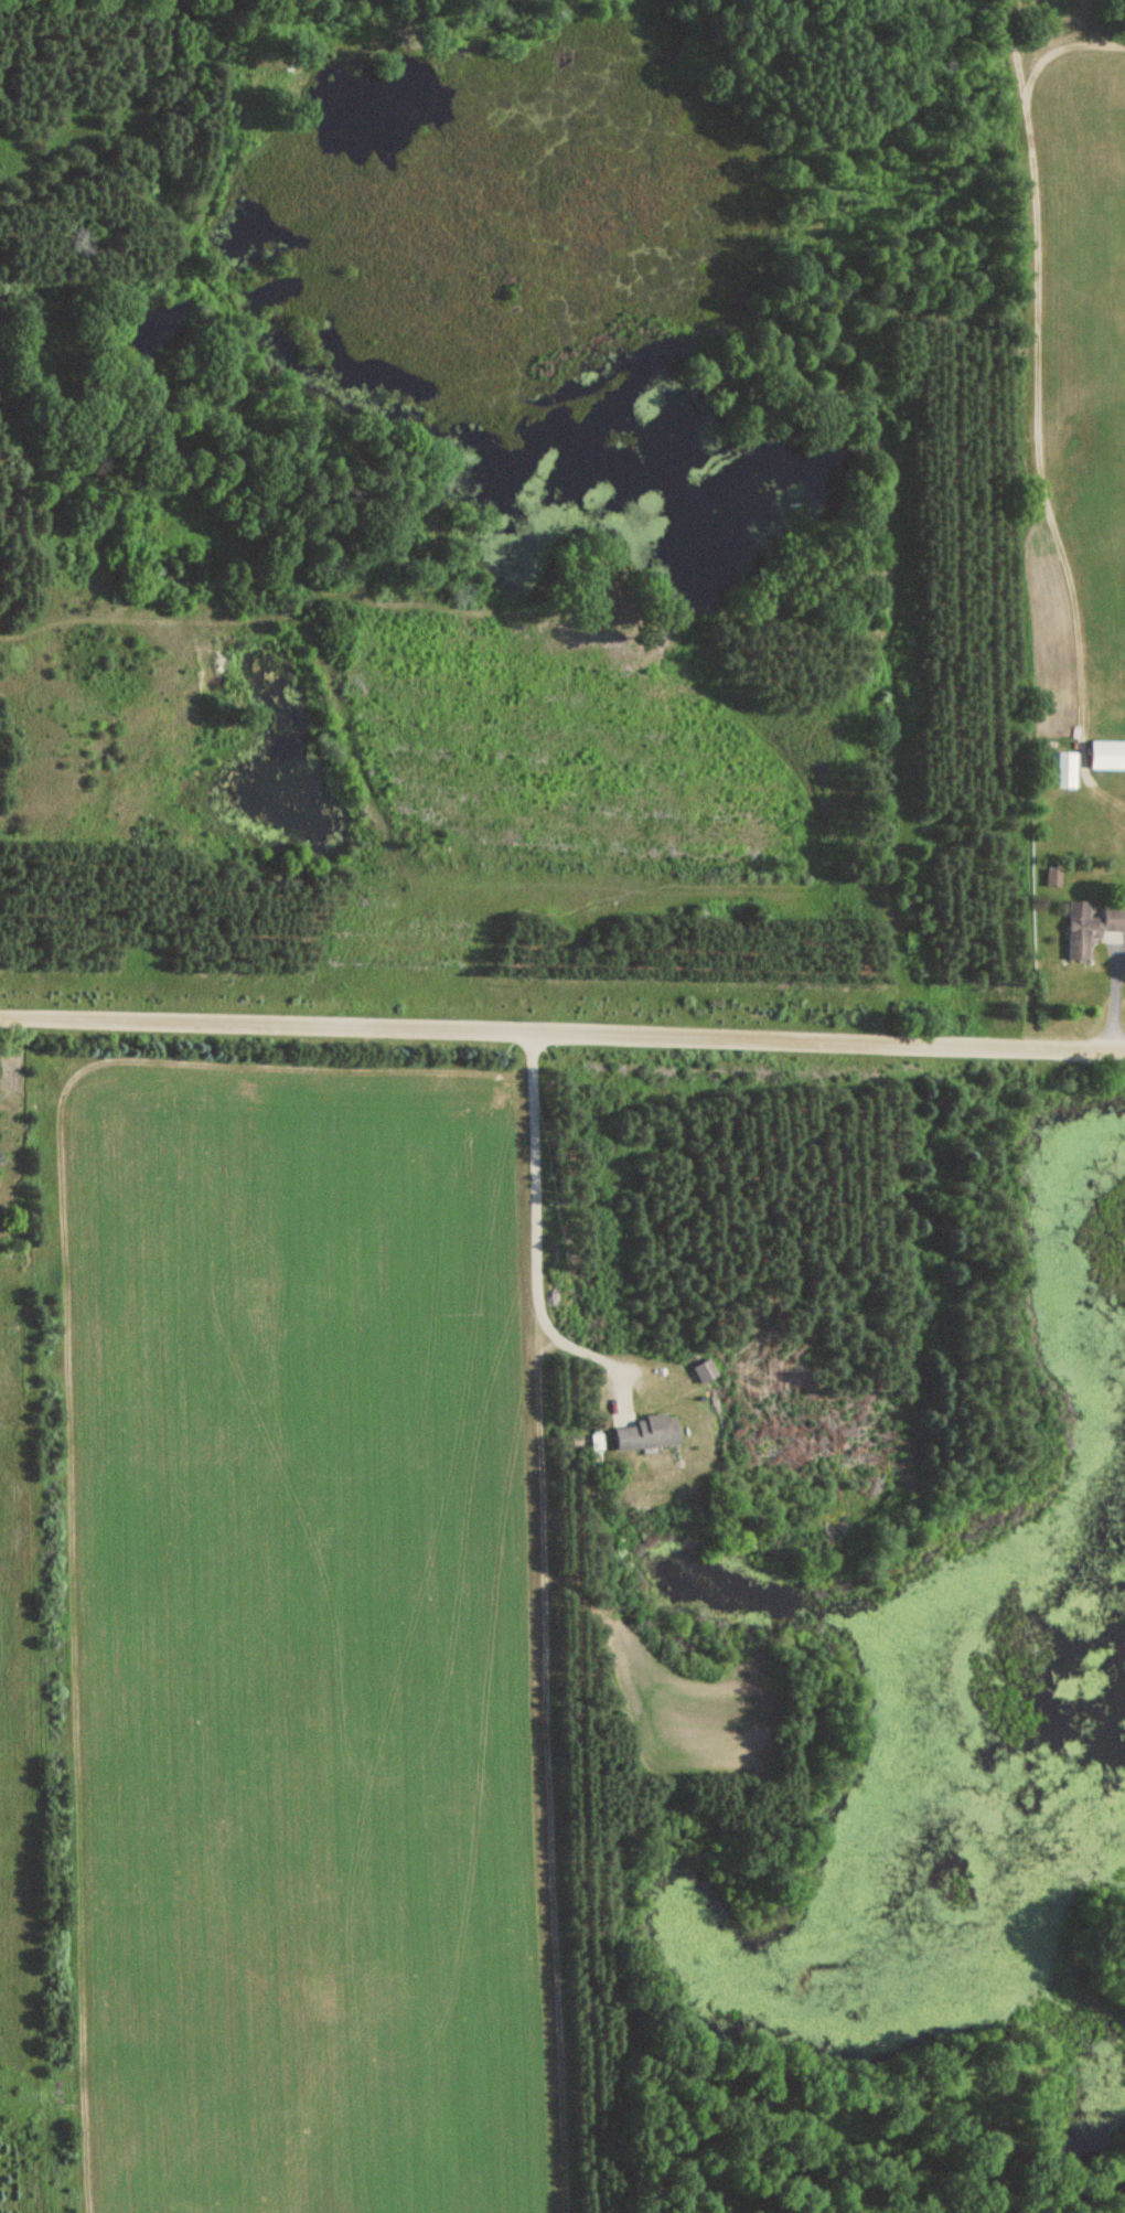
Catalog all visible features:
building: (1106, 756)
building: (1062, 770)
road: (1105, 799)
building: (1090, 926)
road: (1111, 992)
road: (562, 1030)
road: (535, 1227)
building: (703, 1371)
building: (641, 1433)

